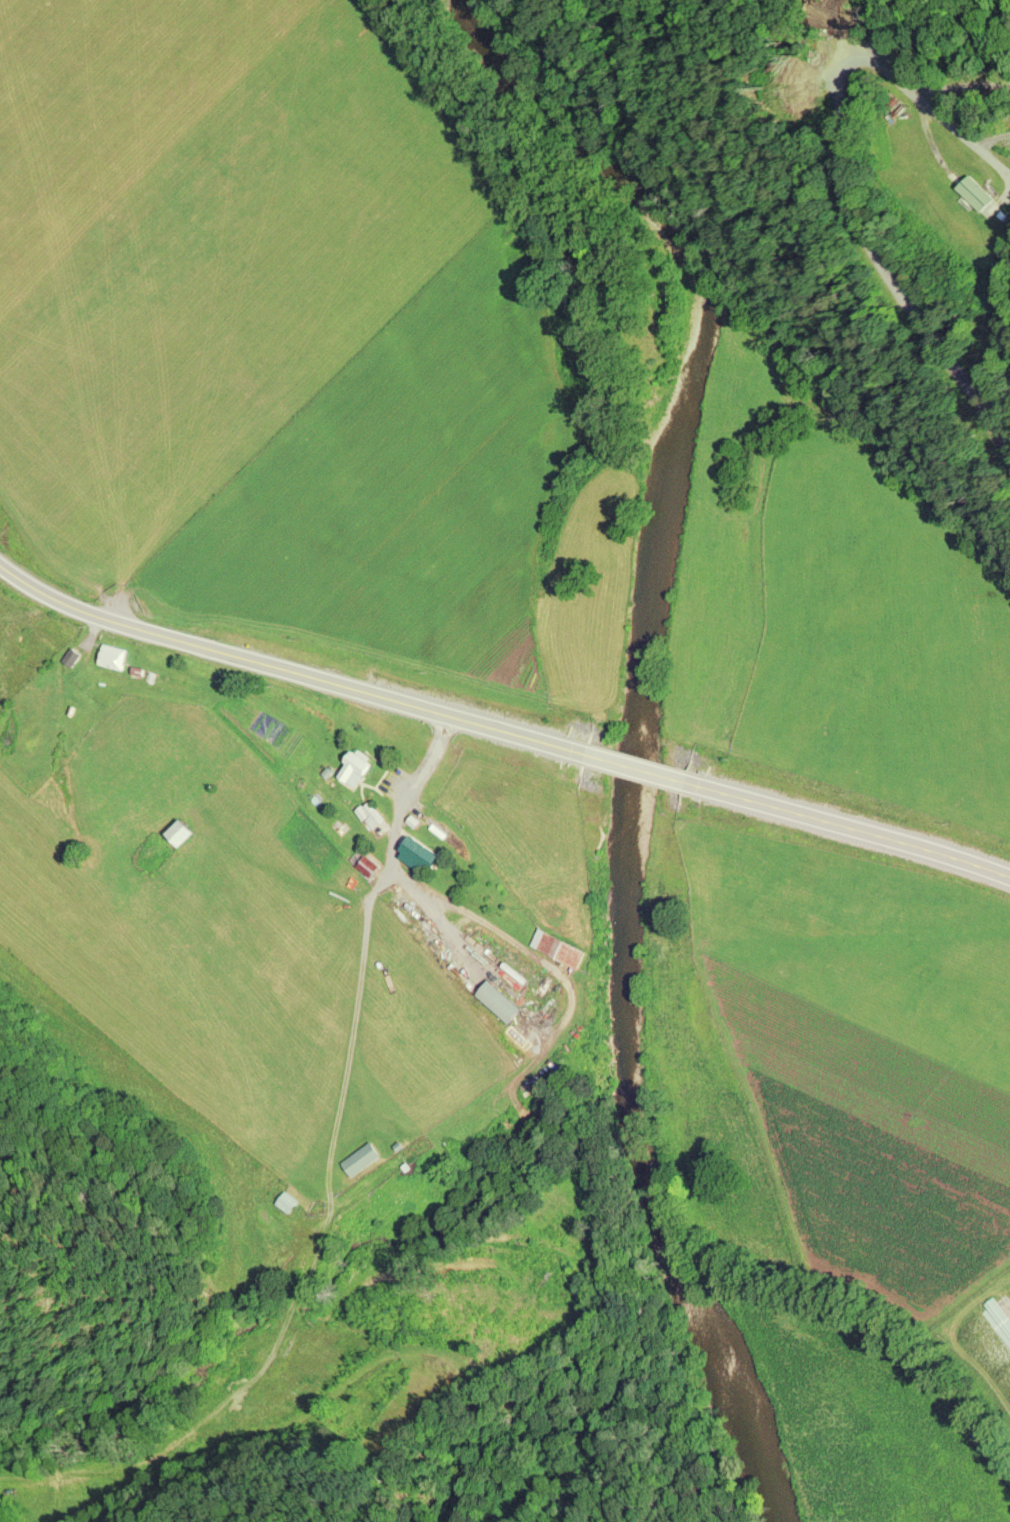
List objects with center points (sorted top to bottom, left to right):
building: (977, 188)
road: (806, 255)
road: (289, 664)
river: (643, 739)
road: (639, 764)
building: (349, 770)
road: (850, 826)
building: (177, 831)
building: (414, 851)
building: (556, 946)

